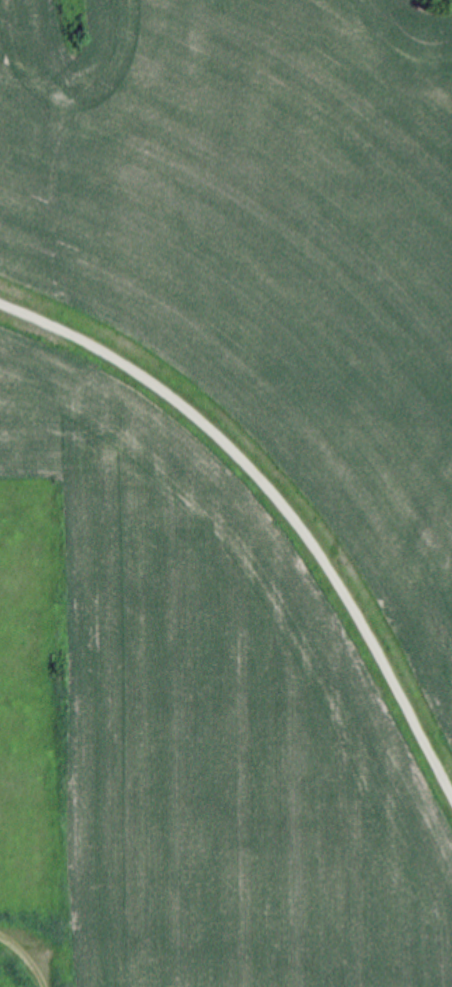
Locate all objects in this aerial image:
road: (277, 499)

